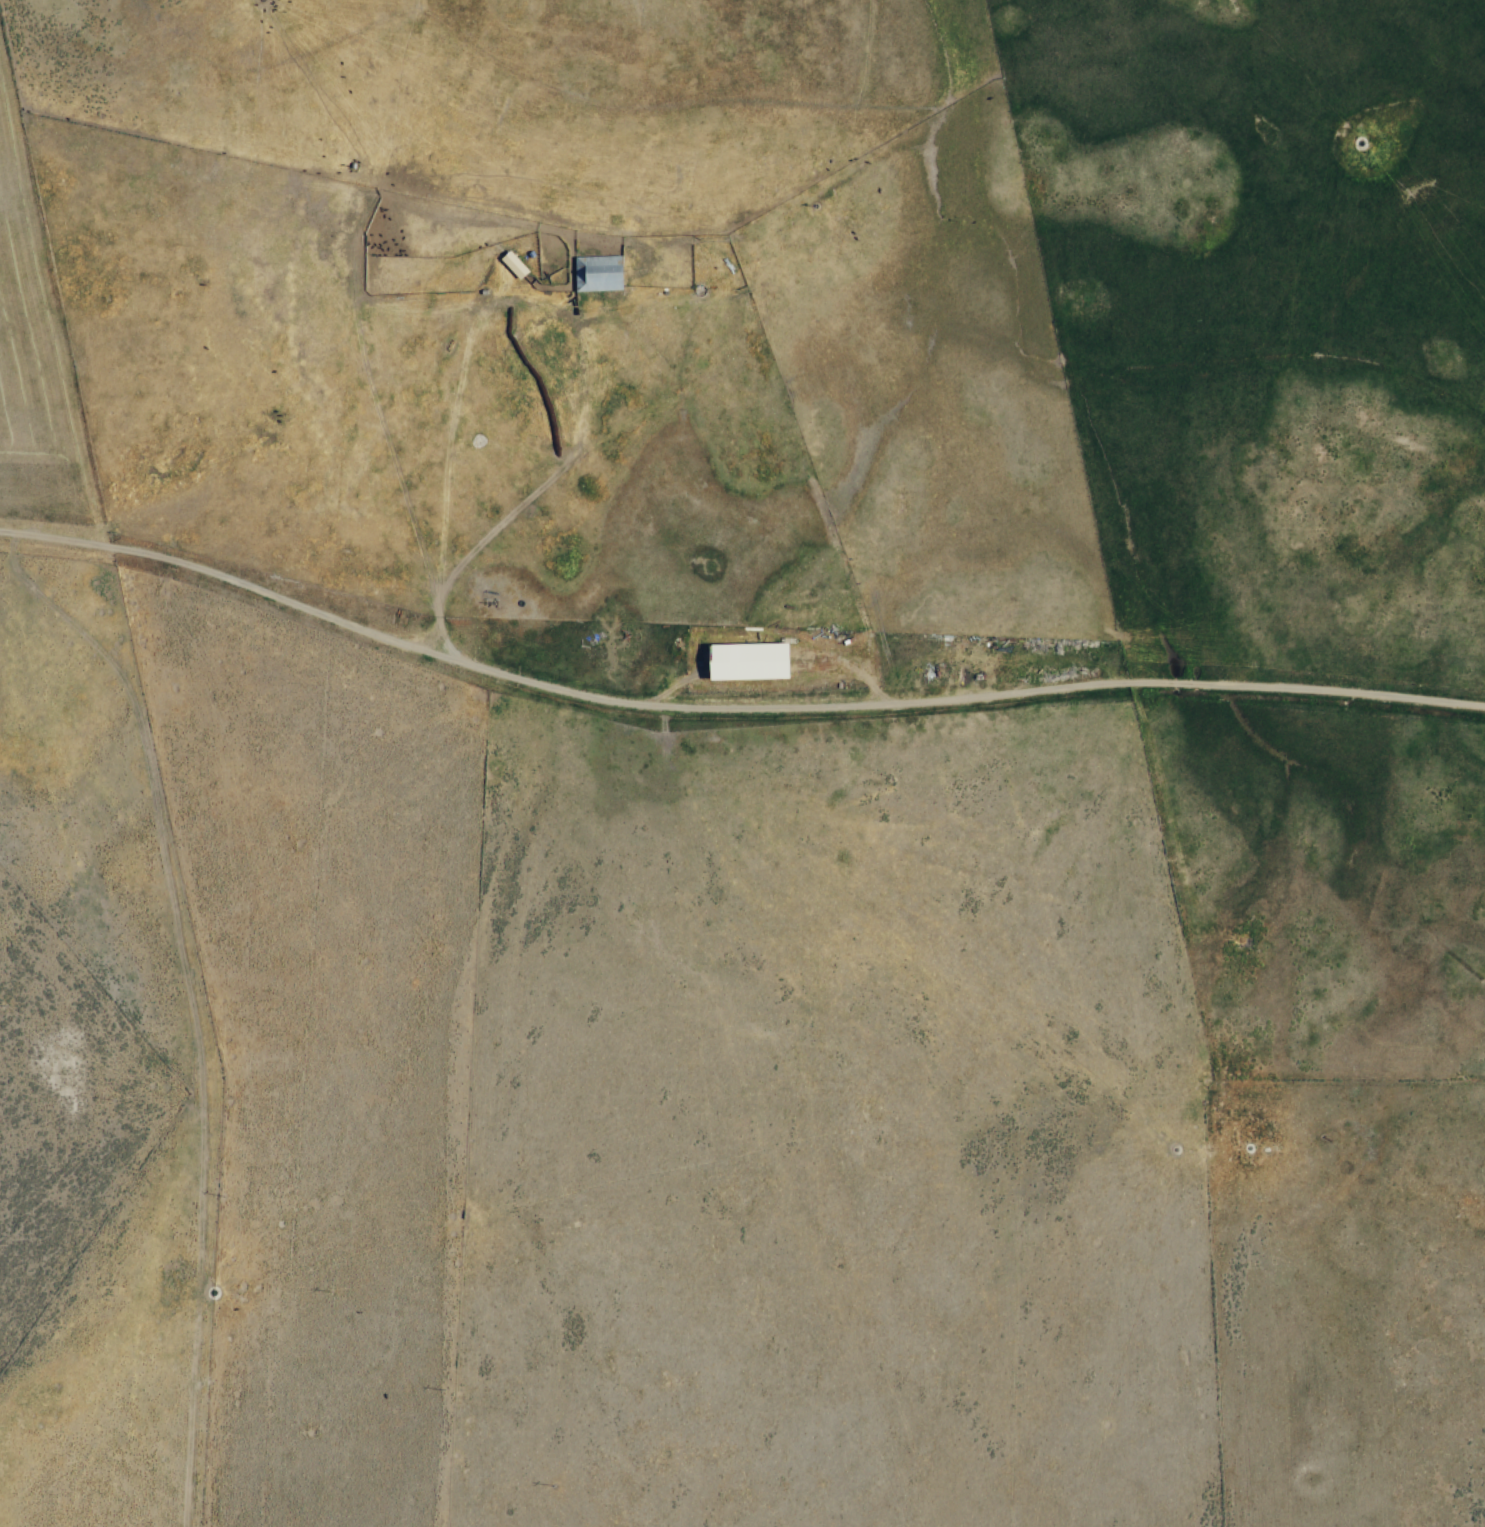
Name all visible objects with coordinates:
building: (512, 263)
crop: (877, 493)
road: (730, 709)

